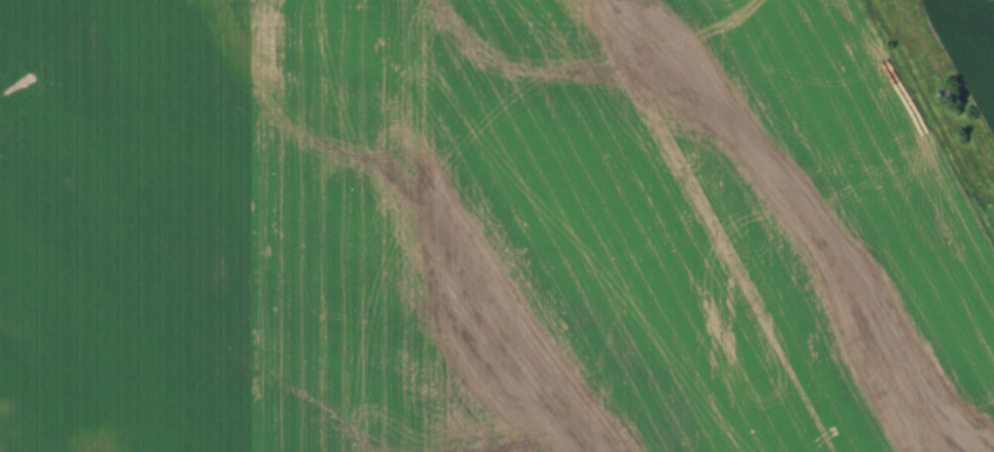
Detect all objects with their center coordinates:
road: (933, 105)

